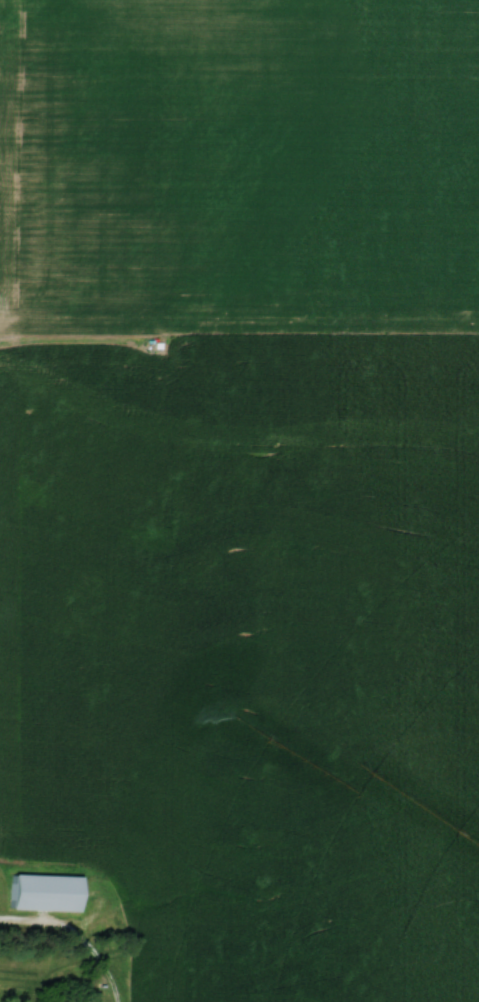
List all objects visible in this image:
building: (41, 891)

